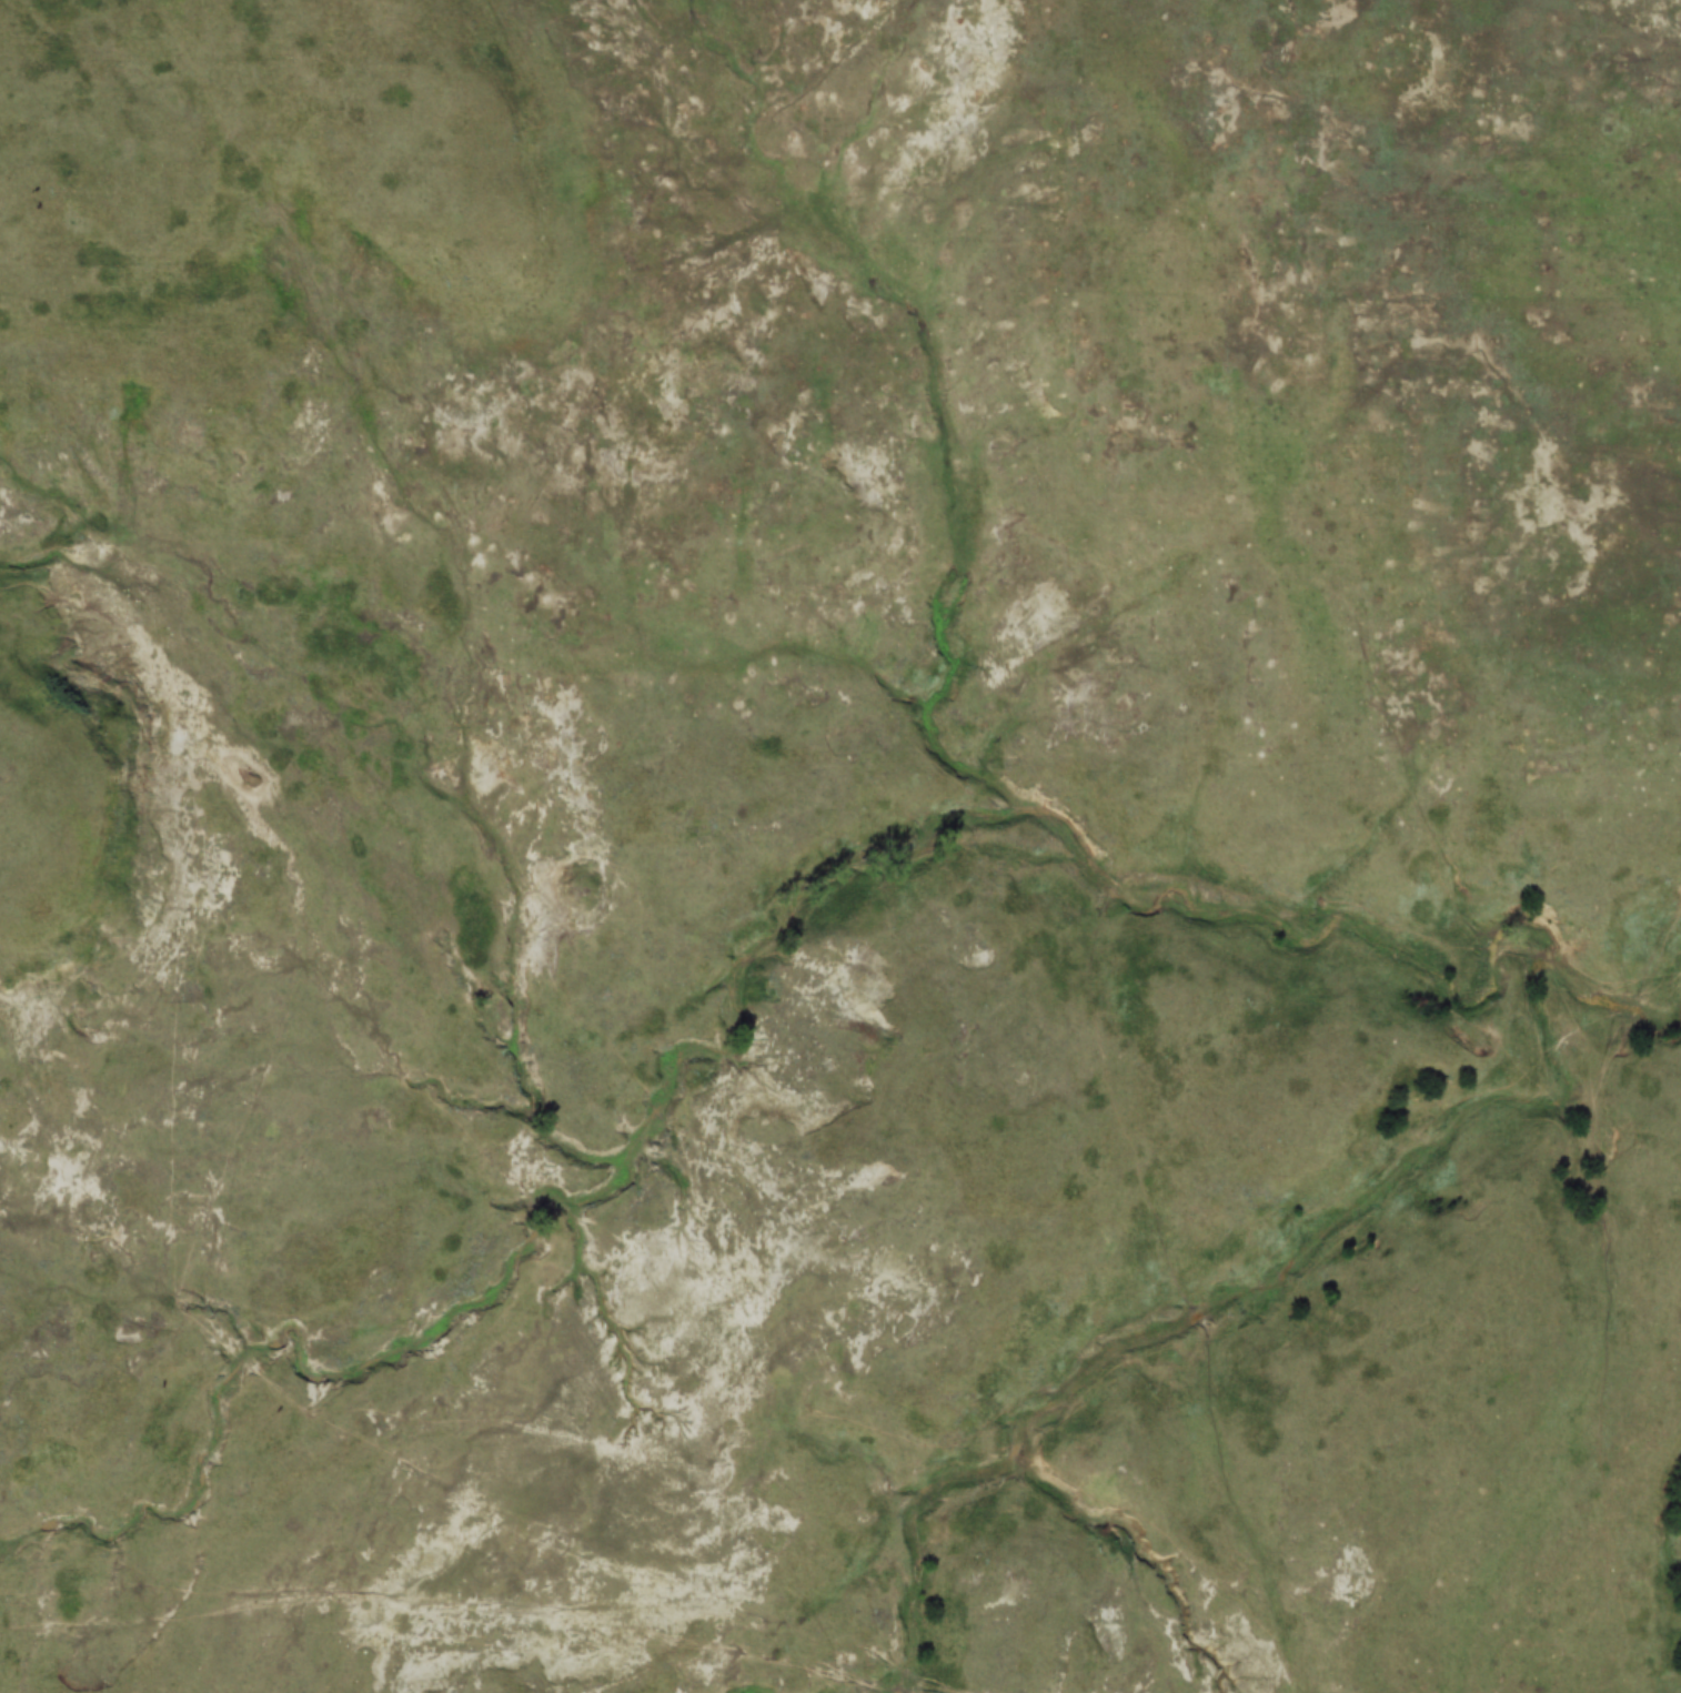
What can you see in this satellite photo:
road: (213, 1322)
road: (469, 1604)

